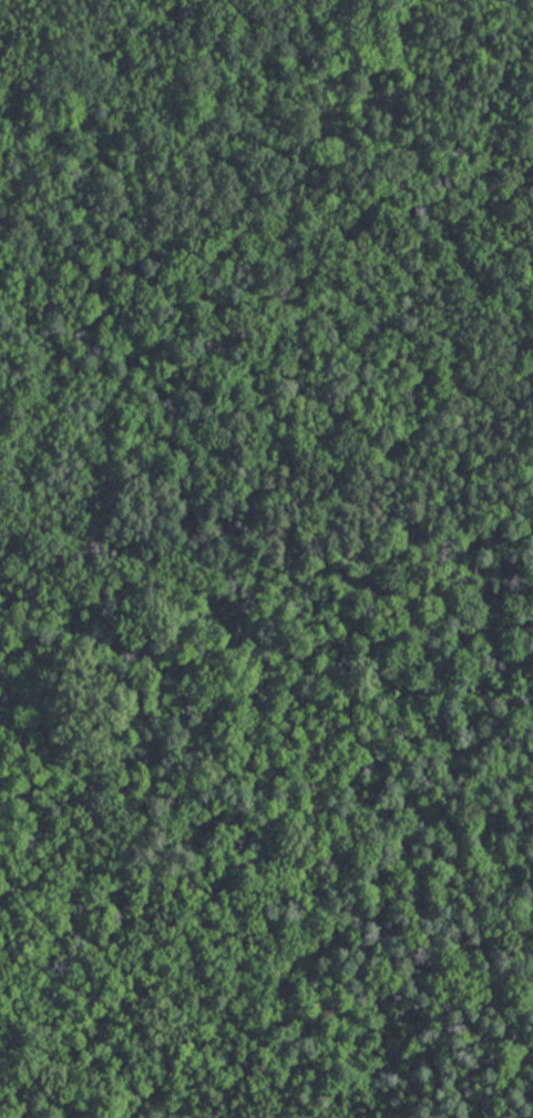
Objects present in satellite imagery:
park: (266, 559)

